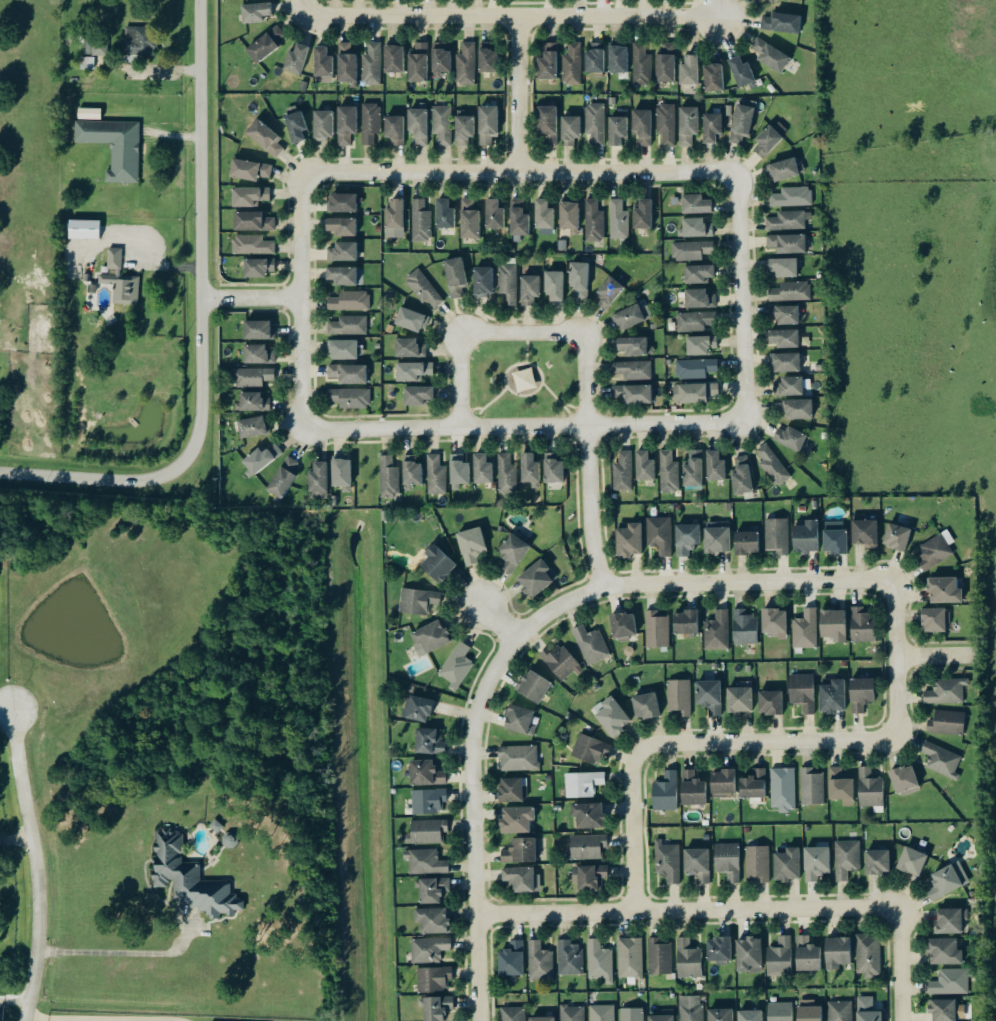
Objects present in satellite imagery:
building: (759, 0)
building: (771, 0)
road: (303, 7)
building: (257, 11)
road: (512, 15)
building: (782, 22)
building: (140, 40)
building: (266, 43)
building: (95, 45)
building: (769, 54)
building: (441, 57)
building: (295, 58)
building: (394, 58)
building: (595, 58)
building: (618, 58)
building: (488, 59)
building: (548, 61)
building: (87, 62)
building: (347, 62)
building: (418, 62)
building: (372, 63)
building: (466, 63)
building: (666, 63)
building: (323, 64)
building: (572, 64)
building: (642, 65)
building: (689, 69)
building: (742, 70)
building: (714, 76)
road: (518, 94)
building: (346, 123)
building: (371, 123)
building: (548, 123)
building: (596, 123)
building: (666, 123)
building: (742, 123)
building: (323, 124)
building: (442, 124)
building: (488, 124)
building: (688, 124)
building: (295, 125)
building: (419, 125)
building: (643, 125)
building: (712, 126)
building: (395, 128)
building: (464, 129)
building: (570, 129)
building: (618, 129)
building: (265, 136)
building: (770, 138)
building: (115, 146)
building: (250, 169)
building: (783, 169)
road: (520, 172)
building: (250, 196)
building: (792, 197)
building: (342, 202)
building: (696, 204)
building: (445, 213)
building: (494, 213)
building: (543, 213)
building: (644, 214)
building: (570, 216)
building: (395, 218)
building: (469, 218)
building: (519, 218)
building: (619, 219)
building: (421, 220)
building: (789, 220)
building: (253, 221)
building: (595, 221)
building: (341, 225)
building: (696, 227)
building: (83, 228)
building: (788, 243)
building: (253, 244)
building: (692, 250)
building: (343, 251)
building: (259, 266)
building: (783, 266)
building: (700, 273)
building: (343, 274)
building: (455, 277)
building: (120, 279)
building: (580, 280)
building: (483, 281)
building: (508, 283)
building: (554, 285)
building: (424, 288)
building: (530, 289)
building: (791, 291)
building: (609, 292)
road: (252, 298)
building: (700, 298)
road: (742, 299)
road: (302, 300)
building: (350, 301)
building: (785, 314)
building: (632, 316)
building: (412, 319)
building: (695, 321)
building: (349, 325)
road: (202, 327)
building: (259, 329)
road: (522, 331)
building: (785, 337)
building: (701, 344)
building: (635, 345)
building: (409, 348)
building: (346, 349)
building: (259, 355)
building: (786, 361)
building: (695, 368)
building: (415, 370)
building: (633, 370)
building: (348, 373)
building: (253, 377)
road: (460, 379)
building: (525, 379)
park: (523, 380)
building: (790, 386)
building: (695, 392)
building: (632, 393)
building: (418, 394)
building: (351, 398)
building: (253, 402)
building: (799, 409)
road: (524, 425)
building: (253, 427)
building: (790, 437)
building: (262, 458)
road: (589, 460)
building: (773, 464)
building: (644, 465)
building: (715, 466)
building: (482, 468)
building: (553, 468)
building: (694, 468)
building: (530, 469)
building: (412, 470)
building: (459, 471)
building: (623, 471)
building: (669, 471)
building: (342, 473)
building: (507, 474)
building: (436, 475)
building: (284, 476)
building: (742, 476)
building: (389, 477)
building: (318, 480)
building: (865, 532)
building: (660, 535)
building: (777, 535)
building: (806, 536)
building: (897, 536)
building: (717, 537)
building: (835, 537)
building: (687, 538)
building: (629, 540)
building: (747, 542)
building: (472, 544)
building: (936, 549)
building: (513, 551)
building: (437, 563)
building: (537, 578)
building: (945, 590)
building: (419, 601)
building: (935, 619)
road: (499, 621)
building: (685, 622)
building: (774, 622)
building: (833, 625)
building: (862, 625)
building: (623, 626)
building: (745, 627)
building: (806, 629)
building: (657, 630)
building: (717, 631)
building: (430, 638)
road: (517, 638)
building: (592, 645)
road: (937, 655)
road: (898, 658)
building: (560, 662)
building: (457, 665)
building: (534, 686)
building: (947, 691)
building: (802, 692)
building: (861, 694)
building: (680, 696)
building: (710, 696)
building: (833, 696)
building: (740, 698)
building: (771, 702)
building: (646, 706)
building: (418, 708)
building: (613, 717)
road: (5, 718)
building: (520, 720)
building: (947, 722)
building: (429, 741)
road: (765, 741)
building: (591, 749)
building: (519, 758)
building: (943, 760)
building: (426, 773)
building: (905, 780)
building: (723, 782)
building: (584, 784)
building: (754, 784)
building: (840, 784)
building: (812, 786)
building: (693, 788)
building: (870, 788)
building: (513, 789)
building: (783, 789)
building: (666, 792)
building: (429, 801)
building: (588, 815)
building: (516, 819)
building: (216, 826)
building: (427, 832)
road: (633, 832)
building: (230, 840)
road: (16, 846)
building: (588, 846)
building: (520, 851)
building: (847, 859)
building: (668, 861)
building: (728, 861)
building: (912, 861)
building: (426, 862)
building: (878, 862)
building: (816, 863)
road: (36, 864)
building: (698, 864)
building: (758, 864)
building: (787, 865)
building: (590, 877)
building: (190, 879)
building: (519, 879)
building: (948, 880)
building: (433, 890)
road: (689, 910)
building: (432, 920)
building: (951, 920)
building: (430, 949)
building: (719, 950)
building: (945, 951)
road: (112, 952)
building: (837, 953)
building: (807, 954)
building: (749, 955)
building: (869, 955)
building: (660, 957)
building: (570, 958)
building: (631, 958)
building: (780, 958)
building: (689, 959)
building: (512, 961)
building: (540, 962)
building: (600, 962)
road: (901, 964)
building: (435, 979)
building: (951, 982)
road: (14, 1001)
building: (436, 1008)
building: (691, 1008)
building: (867, 1009)
building: (947, 1010)
building: (780, 1011)
building: (840, 1011)
building: (572, 1013)
building: (602, 1013)
building: (810, 1013)
building: (513, 1014)
building: (632, 1014)
building: (721, 1015)
building: (750, 1015)
building: (661, 1018)
building: (542, 1019)
road: (64, 1020)

